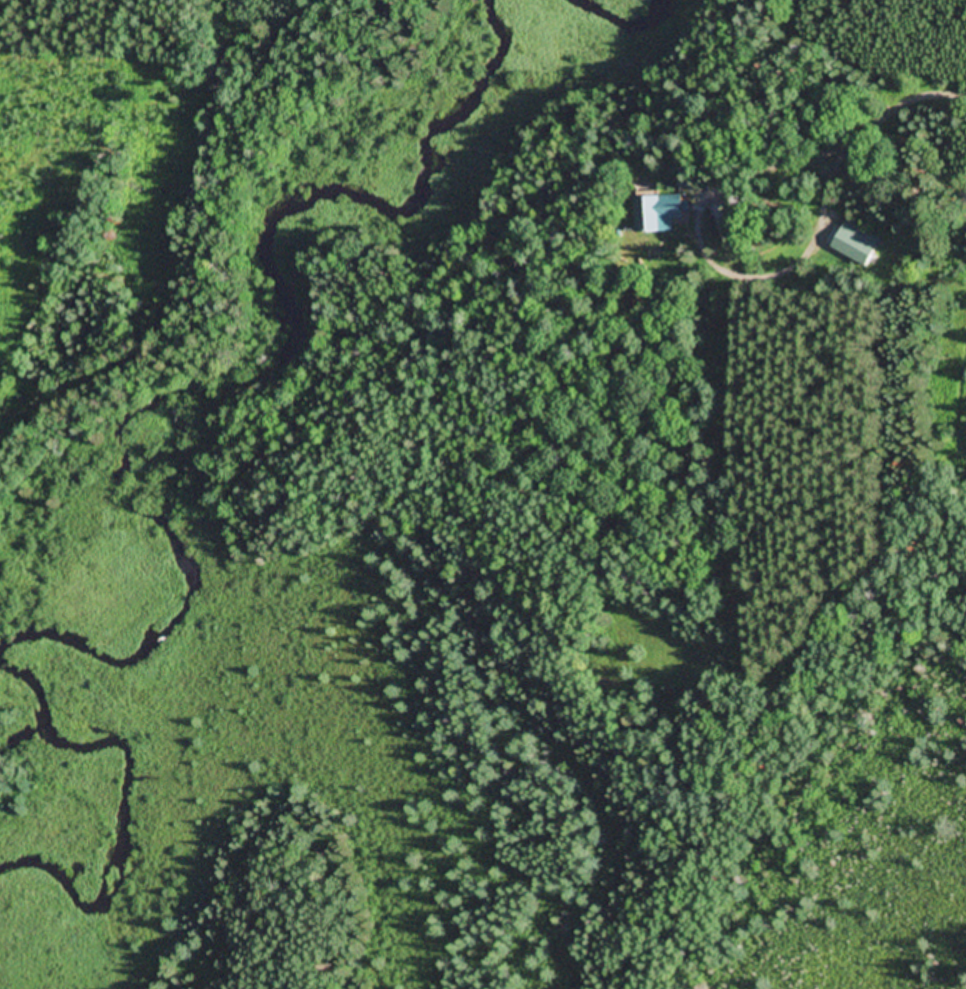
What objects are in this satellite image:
road: (945, 96)
building: (661, 213)
building: (855, 248)

